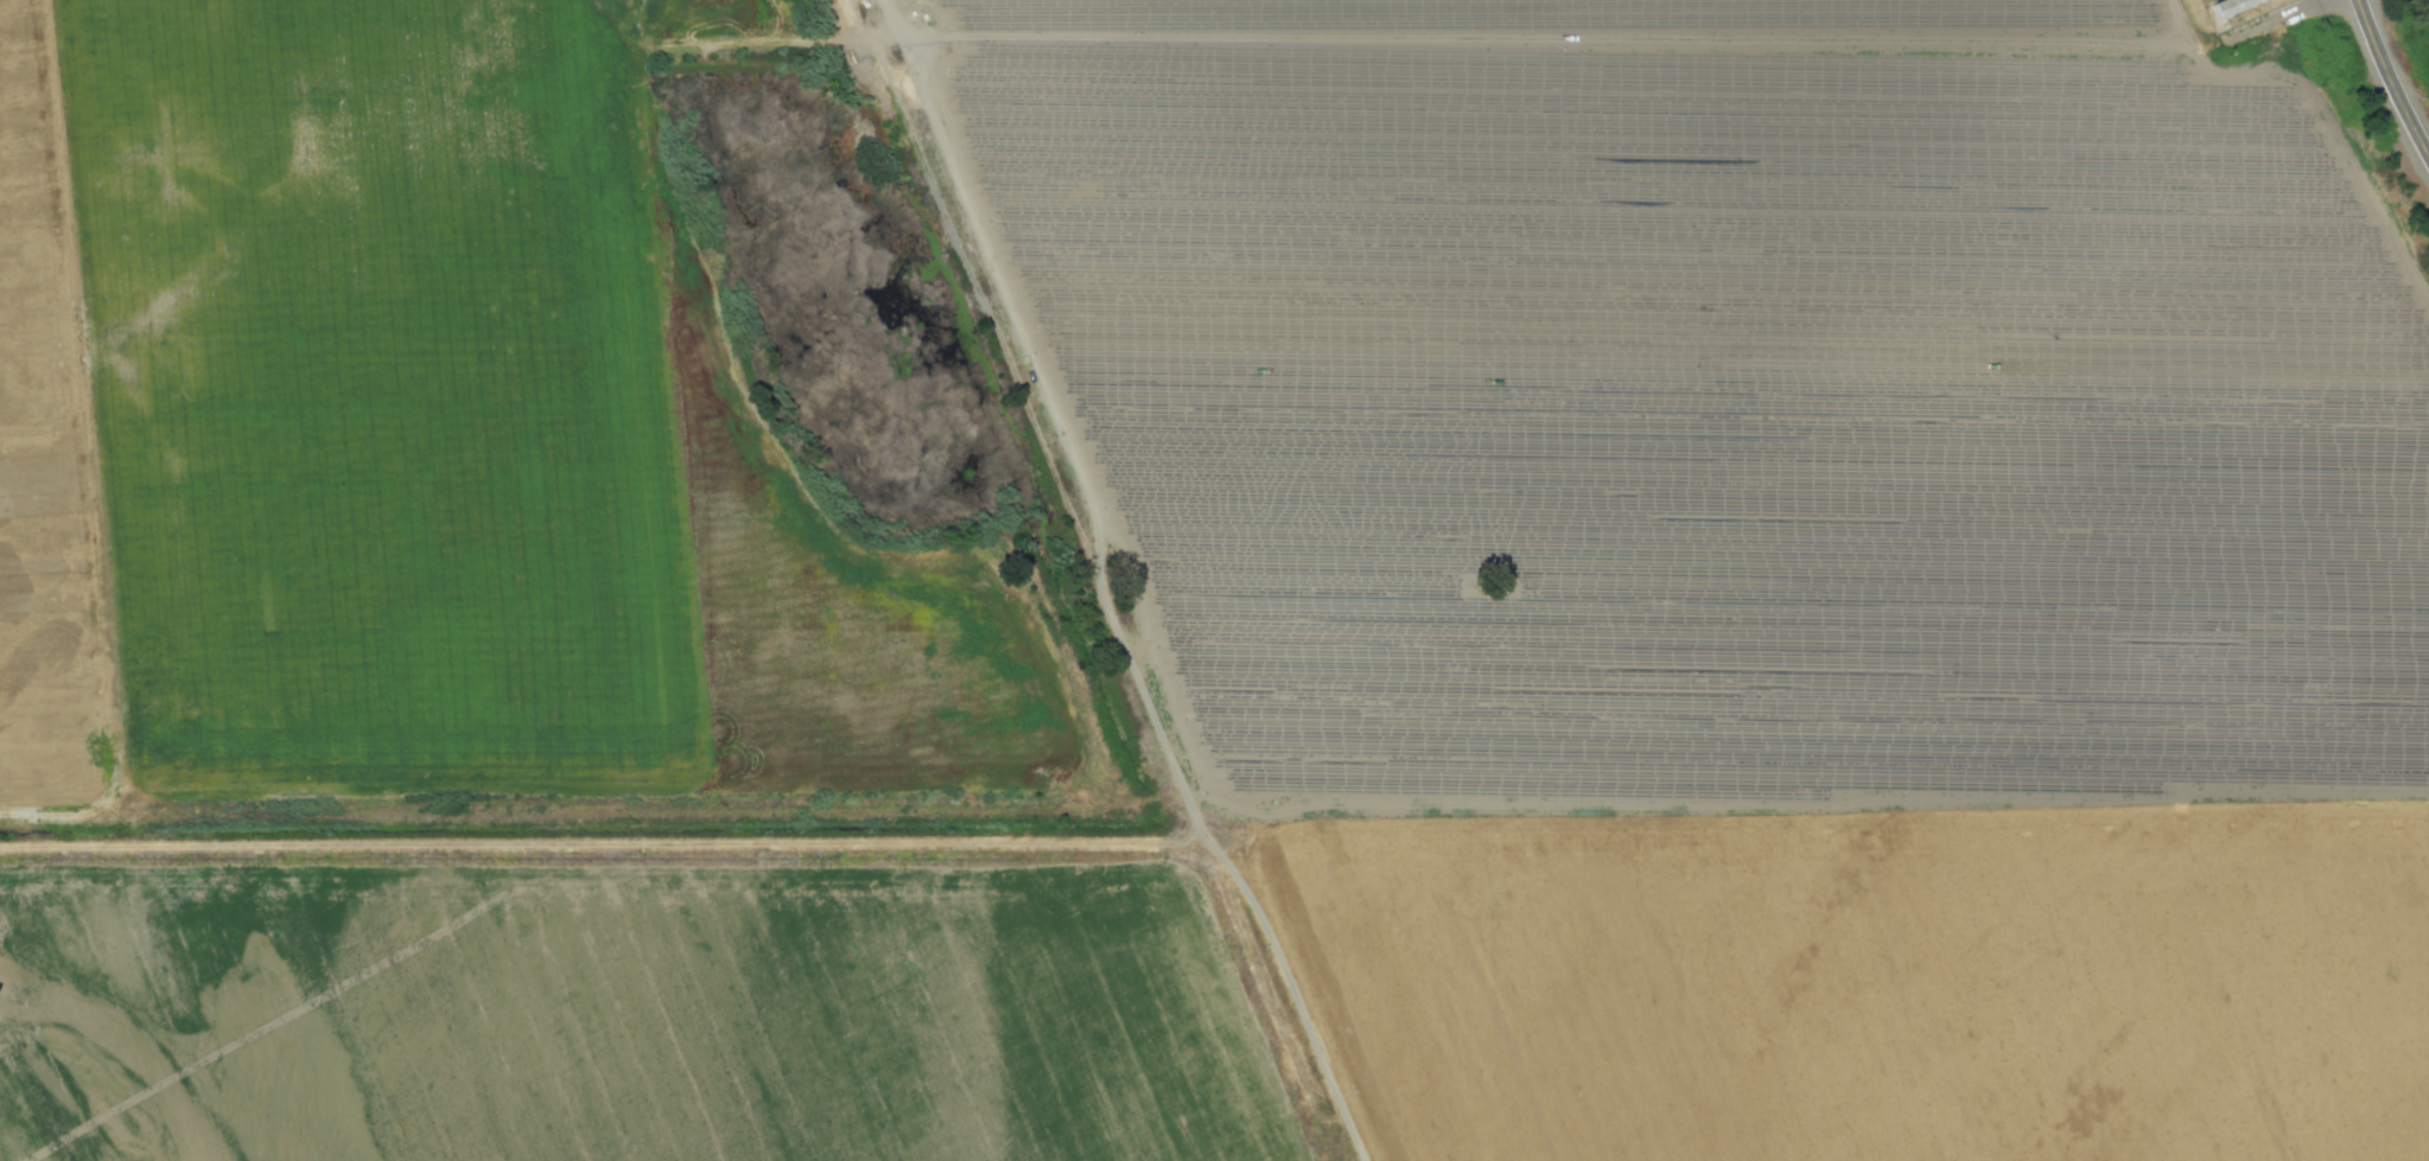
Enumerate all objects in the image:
road: (2316, 0)
building: (2231, 6)
crop: (1592, 18)
road: (2271, 19)
road: (2389, 79)
crop: (1717, 422)
road: (1289, 984)
crop: (1872, 988)
crop: (625, 1013)

